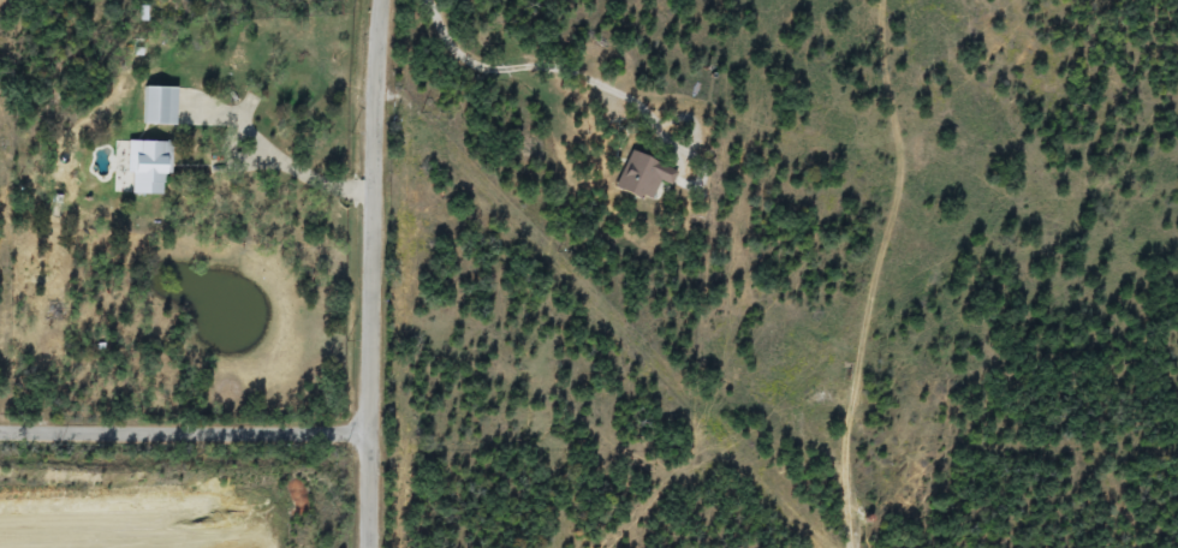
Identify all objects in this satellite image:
road: (545, 72)
building: (161, 106)
road: (282, 162)
building: (149, 168)
building: (643, 177)
road: (373, 273)
road: (184, 427)
building: (298, 498)

